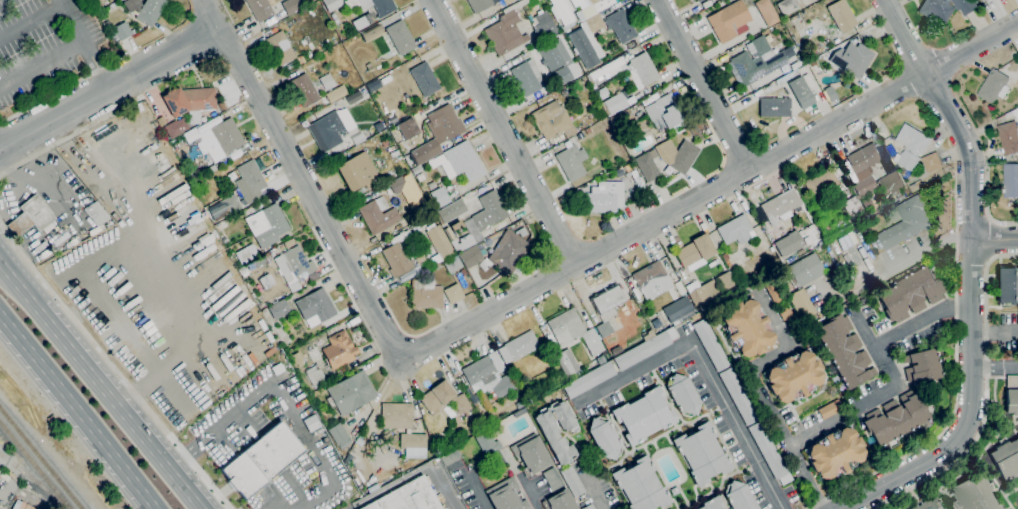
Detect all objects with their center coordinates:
building: (94, 0)
building: (696, 0)
building: (698, 0)
building: (981, 0)
building: (985, 0)
building: (505, 1)
building: (593, 1)
building: (331, 4)
building: (373, 5)
building: (480, 5)
building: (791, 5)
building: (291, 6)
building: (966, 6)
building: (261, 8)
building: (562, 10)
building: (150, 11)
building: (937, 11)
building: (766, 12)
building: (841, 15)
building: (334, 17)
road: (32, 18)
building: (365, 19)
building: (728, 20)
building: (543, 26)
building: (620, 26)
building: (122, 31)
building: (372, 32)
building: (505, 33)
building: (399, 37)
road: (904, 37)
building: (587, 41)
road: (87, 43)
building: (281, 48)
parking lot: (46, 49)
building: (301, 59)
building: (852, 59)
building: (558, 60)
building: (756, 62)
road: (43, 63)
building: (608, 68)
building: (642, 71)
building: (1012, 75)
building: (528, 77)
building: (425, 79)
building: (327, 81)
road: (704, 85)
building: (994, 87)
road: (109, 88)
building: (304, 89)
road: (60, 91)
building: (801, 92)
building: (336, 93)
building: (831, 93)
building: (190, 101)
building: (615, 103)
building: (1017, 104)
building: (221, 106)
building: (775, 107)
building: (654, 113)
building: (1016, 114)
building: (611, 119)
building: (552, 121)
building: (444, 124)
building: (175, 127)
building: (406, 128)
building: (328, 130)
building: (587, 130)
building: (696, 132)
road: (504, 133)
building: (227, 135)
building: (580, 135)
road: (70, 137)
building: (191, 137)
building: (1009, 138)
building: (624, 141)
road: (3, 143)
building: (385, 143)
road: (3, 148)
building: (911, 148)
road: (3, 151)
building: (677, 155)
building: (863, 158)
building: (208, 159)
building: (459, 161)
building: (571, 162)
building: (932, 163)
building: (647, 165)
building: (628, 167)
building: (205, 169)
building: (417, 169)
building: (357, 171)
building: (619, 171)
building: (627, 174)
building: (420, 176)
building: (250, 181)
road: (304, 181)
building: (824, 181)
building: (1010, 181)
building: (889, 183)
building: (399, 184)
building: (863, 186)
building: (914, 188)
road: (710, 193)
building: (438, 194)
building: (605, 198)
building: (230, 204)
building: (852, 206)
building: (780, 207)
road: (985, 207)
building: (451, 211)
building: (378, 215)
building: (31, 216)
building: (95, 216)
building: (482, 219)
road: (988, 219)
building: (825, 221)
building: (906, 224)
building: (222, 225)
building: (267, 225)
building: (738, 230)
building: (522, 232)
road: (988, 239)
road: (994, 239)
building: (440, 242)
building: (787, 244)
building: (509, 251)
building: (695, 251)
building: (267, 256)
building: (470, 256)
building: (397, 260)
road: (988, 260)
road: (1, 261)
building: (738, 261)
road: (1, 263)
building: (452, 264)
building: (484, 264)
building: (294, 266)
building: (417, 270)
building: (804, 270)
building: (464, 273)
building: (405, 277)
building: (651, 277)
building: (726, 280)
building: (1007, 285)
building: (771, 290)
building: (701, 291)
building: (453, 293)
building: (425, 294)
building: (910, 294)
building: (608, 302)
building: (801, 304)
building: (315, 307)
building: (279, 309)
building: (678, 309)
building: (784, 312)
road: (971, 320)
road: (921, 321)
building: (747, 328)
building: (604, 329)
road: (994, 329)
building: (573, 331)
building: (710, 345)
building: (518, 346)
building: (339, 349)
building: (644, 349)
building: (844, 351)
building: (601, 359)
building: (568, 362)
road: (111, 366)
building: (922, 366)
road: (979, 366)
road: (994, 366)
road: (1010, 366)
road: (887, 368)
road: (638, 371)
building: (488, 375)
building: (315, 376)
building: (793, 376)
building: (589, 379)
building: (1012, 381)
road: (956, 385)
road: (101, 387)
road: (265, 387)
road: (759, 390)
building: (351, 392)
building: (516, 394)
building: (683, 395)
building: (738, 396)
road: (986, 398)
building: (444, 399)
building: (1012, 401)
building: (830, 408)
road: (79, 410)
building: (397, 415)
building: (643, 415)
building: (895, 418)
road: (738, 425)
building: (556, 430)
building: (339, 435)
building: (604, 437)
building: (412, 441)
building: (487, 443)
building: (769, 452)
building: (500, 453)
building: (701, 453)
building: (835, 453)
building: (531, 454)
building: (449, 456)
building: (1006, 458)
railway: (40, 459)
building: (261, 459)
railway: (35, 465)
building: (367, 469)
building: (552, 478)
railway: (34, 479)
road: (521, 479)
building: (572, 481)
building: (640, 485)
road: (476, 487)
building: (974, 493)
building: (505, 495)
building: (739, 496)
building: (407, 497)
road: (310, 499)
building: (559, 501)
building: (712, 503)
building: (930, 504)
building: (23, 506)
building: (588, 506)
building: (10, 508)
building: (490, 508)

